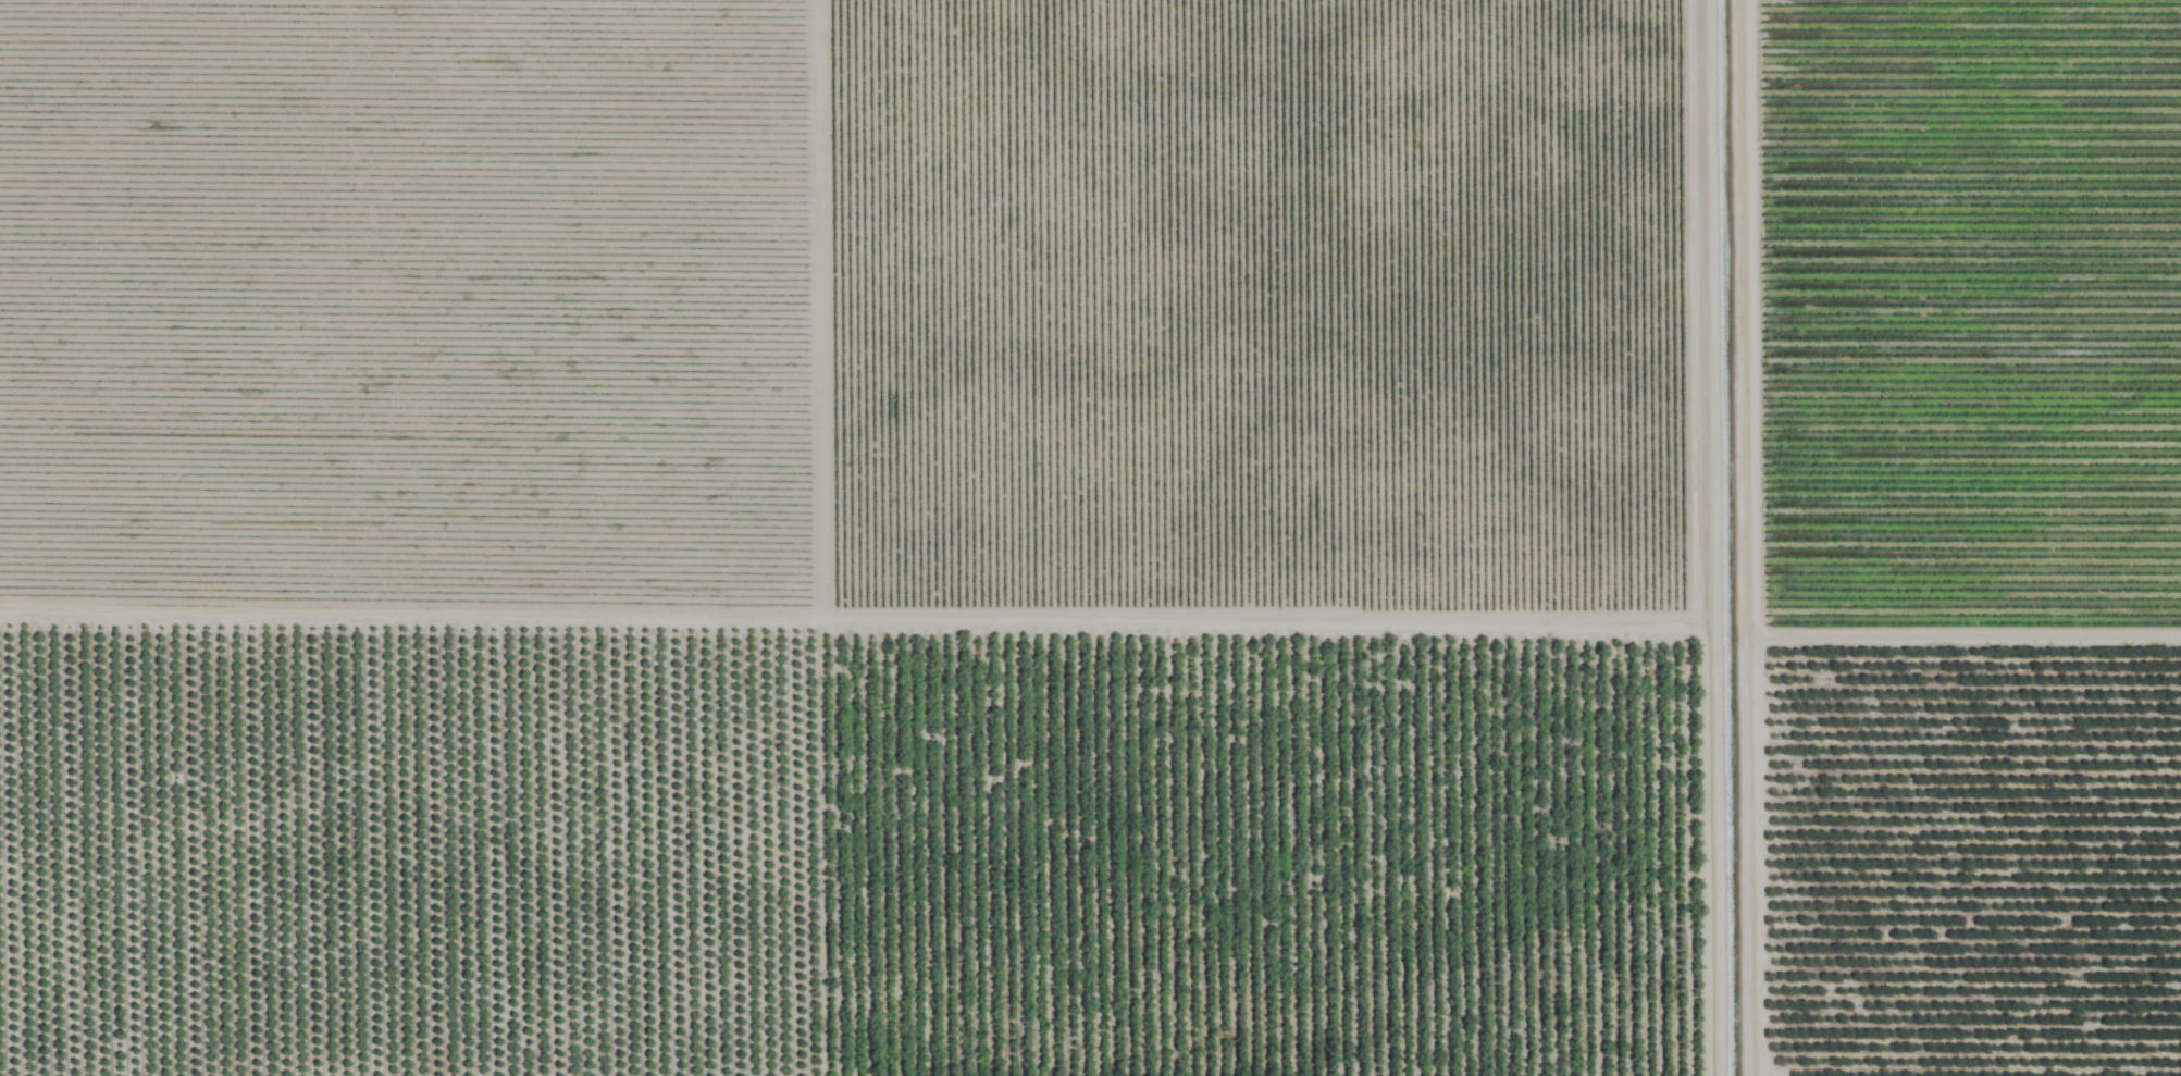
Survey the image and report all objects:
road: (815, 310)
road: (408, 617)

